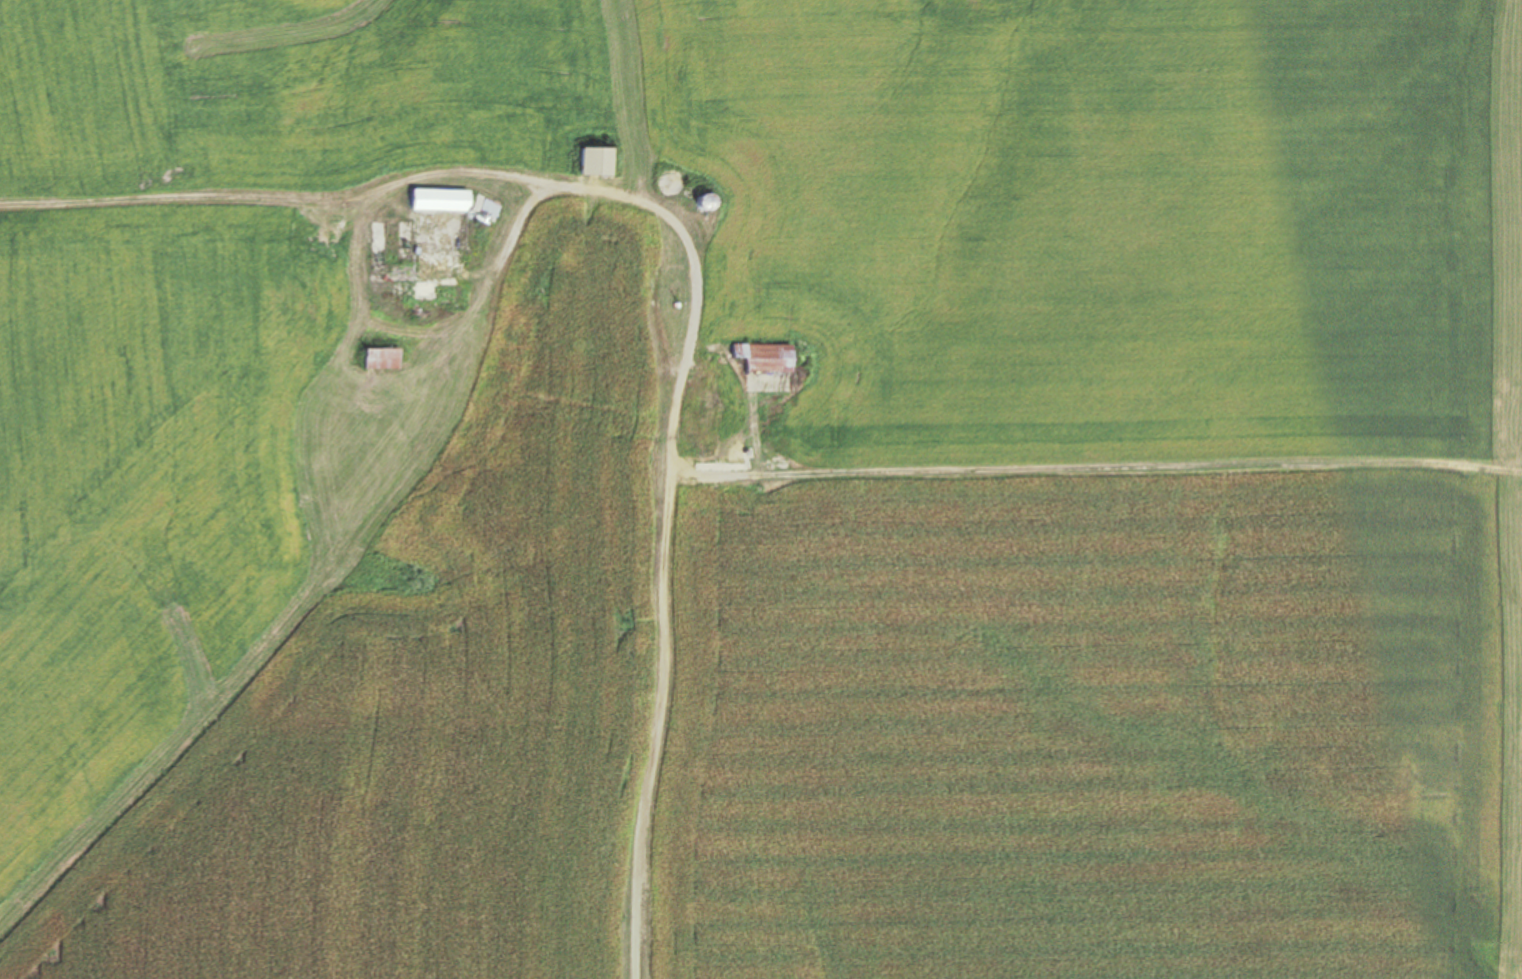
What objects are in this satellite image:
building: (586, 162)
building: (670, 184)
road: (224, 202)
building: (442, 206)
road: (498, 263)
building: (764, 357)
road: (1094, 467)
road: (665, 481)

